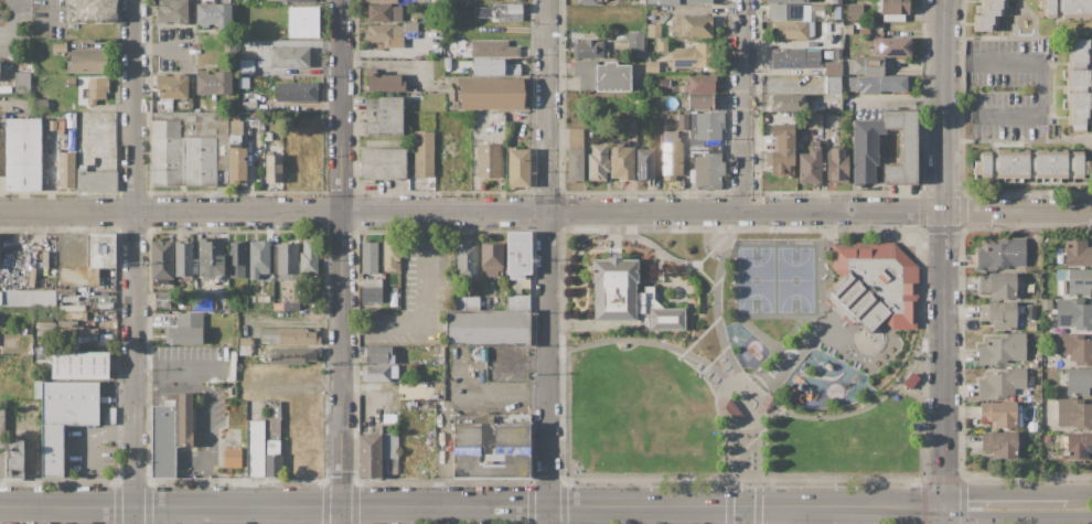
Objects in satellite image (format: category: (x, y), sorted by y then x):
building: (300, 0)
building: (381, 1)
building: (418, 1)
building: (456, 1)
building: (589, 1)
building: (664, 1)
building: (695, 1)
building: (786, 1)
building: (242, 2)
building: (836, 2)
building: (892, 9)
building: (1067, 9)
road: (47, 11)
building: (90, 11)
building: (172, 11)
building: (383, 12)
building: (500, 12)
building: (789, 12)
building: (854, 12)
building: (836, 13)
building: (212, 14)
building: (989, 14)
building: (717, 15)
road: (14, 21)
building: (302, 22)
building: (859, 25)
building: (436, 26)
building: (690, 28)
building: (824, 29)
building: (847, 29)
building: (786, 30)
building: (653, 31)
building: (386, 34)
road: (1018, 36)
building: (635, 41)
building: (58, 46)
building: (663, 46)
building: (892, 46)
building: (493, 49)
building: (588, 49)
road: (159, 50)
building: (436, 51)
building: (837, 54)
building: (283, 57)
building: (793, 57)
building: (694, 58)
building: (88, 61)
building: (447, 63)
building: (650, 64)
building: (488, 66)
building: (866, 66)
building: (245, 67)
building: (833, 68)
building: (585, 73)
building: (893, 73)
building: (612, 77)
building: (71, 82)
building: (384, 82)
building: (22, 83)
building: (213, 83)
building: (663, 83)
building: (880, 83)
building: (1079, 83)
building: (697, 84)
building: (833, 85)
building: (172, 87)
building: (913, 87)
road: (1039, 88)
building: (96, 89)
building: (296, 92)
building: (491, 94)
building: (681, 96)
building: (705, 101)
road: (901, 101)
building: (786, 103)
building: (40, 105)
road: (746, 105)
building: (61, 106)
building: (235, 116)
building: (384, 116)
building: (502, 117)
building: (270, 120)
building: (683, 121)
building: (813, 121)
building: (705, 128)
building: (275, 136)
building: (575, 138)
building: (277, 142)
building: (188, 147)
building: (903, 147)
building: (703, 149)
building: (782, 150)
building: (866, 150)
building: (235, 153)
building: (424, 153)
building: (22, 154)
building: (671, 156)
building: (488, 160)
building: (622, 160)
building: (690, 160)
building: (597, 162)
building: (383, 163)
building: (575, 164)
building: (645, 164)
building: (810, 164)
building: (836, 164)
building: (1031, 164)
building: (272, 168)
building: (517, 168)
building: (67, 170)
building: (708, 171)
building: (96, 181)
road: (546, 211)
building: (51, 237)
road: (945, 253)
building: (99, 254)
building: (518, 254)
building: (1078, 254)
building: (390, 255)
building: (1003, 255)
building: (368, 256)
building: (211, 257)
building: (309, 257)
building: (258, 258)
building: (491, 258)
building: (236, 259)
building: (286, 259)
building: (183, 260)
road: (136, 261)
building: (161, 261)
road: (341, 261)
building: (467, 261)
road: (549, 261)
building: (45, 263)
building: (407, 265)
building: (405, 274)
building: (31, 277)
building: (71, 280)
park: (775, 280)
building: (1077, 282)
building: (874, 285)
building: (998, 285)
building: (107, 287)
building: (516, 287)
building: (448, 288)
building: (370, 291)
building: (161, 297)
building: (629, 297)
building: (0, 298)
building: (71, 299)
building: (29, 300)
building: (201, 302)
building: (517, 302)
building: (1047, 303)
building: (100, 304)
building: (224, 306)
building: (278, 307)
building: (286, 307)
building: (295, 308)
building: (1030, 311)
building: (999, 314)
building: (1074, 316)
building: (67, 323)
road: (424, 323)
building: (46, 325)
building: (484, 325)
building: (1030, 327)
building: (185, 329)
building: (45, 333)
building: (69, 333)
building: (288, 336)
building: (244, 345)
building: (1002, 349)
building: (1075, 349)
road: (789, 353)
building: (378, 354)
park: (745, 354)
building: (293, 355)
building: (408, 360)
building: (441, 360)
road: (522, 362)
road: (704, 363)
building: (79, 364)
building: (378, 373)
building: (502, 382)
building: (1079, 382)
building: (1002, 384)
road: (770, 400)
building: (276, 408)
building: (1018, 409)
building: (250, 410)
building: (259, 410)
road: (206, 411)
building: (998, 414)
building: (1074, 414)
building: (109, 416)
building: (63, 417)
building: (1019, 420)
building: (1032, 426)
building: (1, 427)
road: (93, 432)
building: (170, 432)
building: (272, 436)
building: (1002, 443)
building: (491, 446)
building: (388, 447)
building: (1079, 447)
building: (254, 448)
building: (370, 453)
building: (232, 457)
building: (14, 460)
building: (272, 466)
road: (1005, 493)
road: (1080, 493)
traffic signals: (946, 505)
road: (473, 506)
road: (946, 514)
road: (746, 515)
road: (1016, 518)

